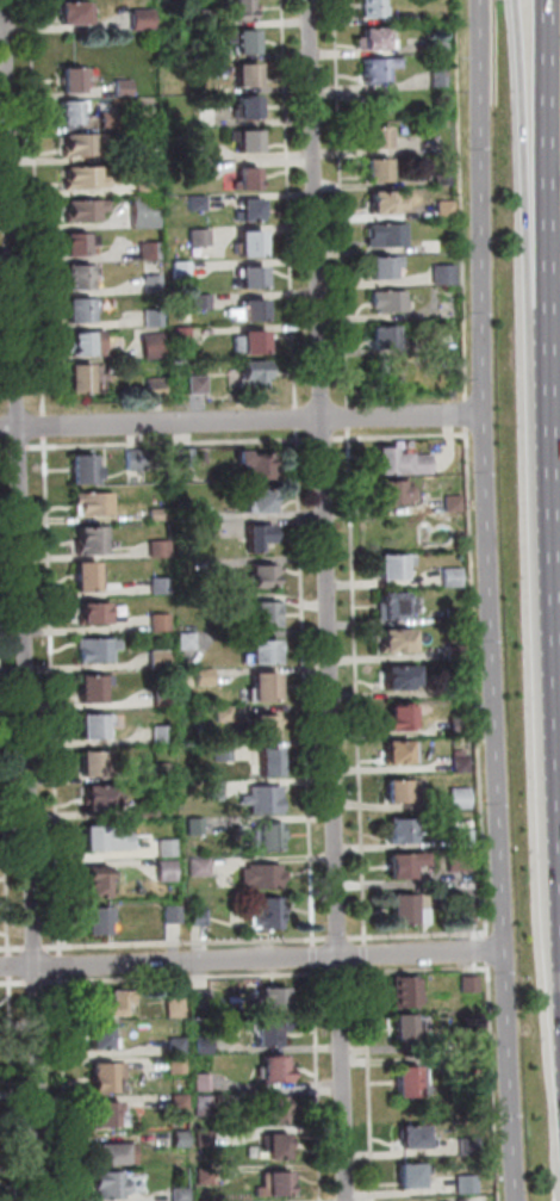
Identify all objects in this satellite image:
building: (367, 7)
building: (69, 11)
building: (238, 11)
building: (402, 14)
building: (200, 17)
building: (139, 18)
building: (368, 37)
building: (241, 42)
building: (433, 45)
building: (368, 72)
building: (70, 75)
building: (242, 75)
building: (436, 76)
building: (122, 85)
building: (244, 106)
building: (68, 110)
building: (201, 116)
building: (371, 137)
building: (243, 140)
building: (428, 142)
building: (81, 143)
building: (189, 143)
road: (535, 151)
road: (550, 151)
building: (191, 169)
building: (372, 169)
building: (82, 175)
building: (243, 175)
building: (143, 182)
building: (194, 200)
road: (341, 200)
road: (462, 200)
road: (287, 202)
building: (375, 202)
road: (35, 205)
building: (244, 205)
building: (81, 209)
building: (448, 210)
building: (141, 213)
building: (197, 231)
building: (382, 234)
building: (73, 242)
building: (244, 243)
building: (434, 247)
building: (148, 249)
building: (377, 266)
building: (178, 268)
building: (448, 274)
building: (75, 276)
building: (248, 277)
building: (384, 301)
building: (199, 302)
building: (250, 309)
building: (74, 310)
building: (149, 314)
building: (379, 336)
building: (443, 338)
building: (250, 340)
building: (75, 342)
building: (150, 342)
building: (250, 370)
building: (74, 377)
building: (194, 382)
building: (151, 383)
road: (465, 413)
road: (347, 415)
road: (294, 416)
road: (244, 420)
road: (42, 423)
road: (397, 435)
road: (322, 438)
road: (167, 441)
road: (11, 446)
road: (554, 446)
road: (1, 447)
building: (131, 456)
building: (179, 457)
building: (387, 460)
building: (249, 466)
building: (79, 469)
road: (489, 476)
building: (387, 490)
building: (253, 500)
building: (89, 502)
building: (455, 503)
building: (183, 509)
building: (154, 512)
building: (257, 537)
building: (82, 538)
building: (156, 546)
building: (392, 563)
building: (260, 574)
building: (81, 575)
building: (454, 577)
building: (157, 582)
road: (18, 600)
road: (329, 600)
building: (393, 603)
building: (87, 612)
building: (259, 614)
building: (459, 615)
building: (155, 620)
building: (182, 639)
building: (394, 639)
building: (92, 649)
building: (257, 651)
building: (458, 652)
building: (153, 657)
building: (204, 675)
building: (396, 675)
building: (260, 685)
road: (354, 685)
road: (303, 687)
building: (85, 689)
building: (459, 689)
building: (157, 693)
road: (50, 694)
building: (223, 713)
building: (397, 714)
building: (257, 725)
building: (91, 726)
building: (460, 726)
road: (554, 730)
building: (158, 732)
road: (478, 747)
building: (398, 750)
building: (223, 753)
building: (261, 760)
building: (91, 764)
building: (463, 764)
building: (160, 769)
building: (397, 788)
building: (213, 790)
building: (99, 798)
building: (262, 799)
building: (461, 799)
building: (148, 804)
building: (193, 827)
building: (399, 829)
road: (4, 834)
building: (261, 834)
building: (105, 835)
building: (463, 838)
building: (162, 844)
building: (461, 861)
building: (400, 863)
building: (197, 865)
building: (161, 869)
building: (259, 871)
building: (97, 881)
building: (404, 909)
building: (169, 911)
building: (267, 911)
building: (463, 914)
building: (195, 915)
building: (94, 917)
road: (335, 936)
road: (182, 941)
road: (11, 946)
road: (31, 946)
road: (362, 953)
road: (311, 954)
road: (249, 958)
road: (58, 962)
road: (8, 964)
road: (336, 971)
road: (185, 976)
road: (35, 980)
road: (11, 982)
building: (469, 984)
building: (402, 989)
building: (267, 996)
building: (200, 997)
building: (110, 999)
building: (170, 1002)
road: (486, 1017)
building: (400, 1024)
building: (266, 1029)
building: (93, 1032)
building: (201, 1041)
building: (173, 1042)
building: (173, 1063)
building: (269, 1064)
building: (471, 1070)
building: (104, 1072)
road: (508, 1076)
road: (365, 1082)
building: (407, 1082)
road: (315, 1083)
road: (62, 1087)
road: (12, 1088)
building: (274, 1107)
building: (104, 1113)
building: (407, 1134)
building: (201, 1135)
building: (176, 1137)
building: (275, 1143)
building: (469, 1146)
building: (110, 1151)
building: (410, 1175)
building: (209, 1177)
building: (270, 1181)
building: (108, 1183)
building: (467, 1185)
building: (178, 1193)

